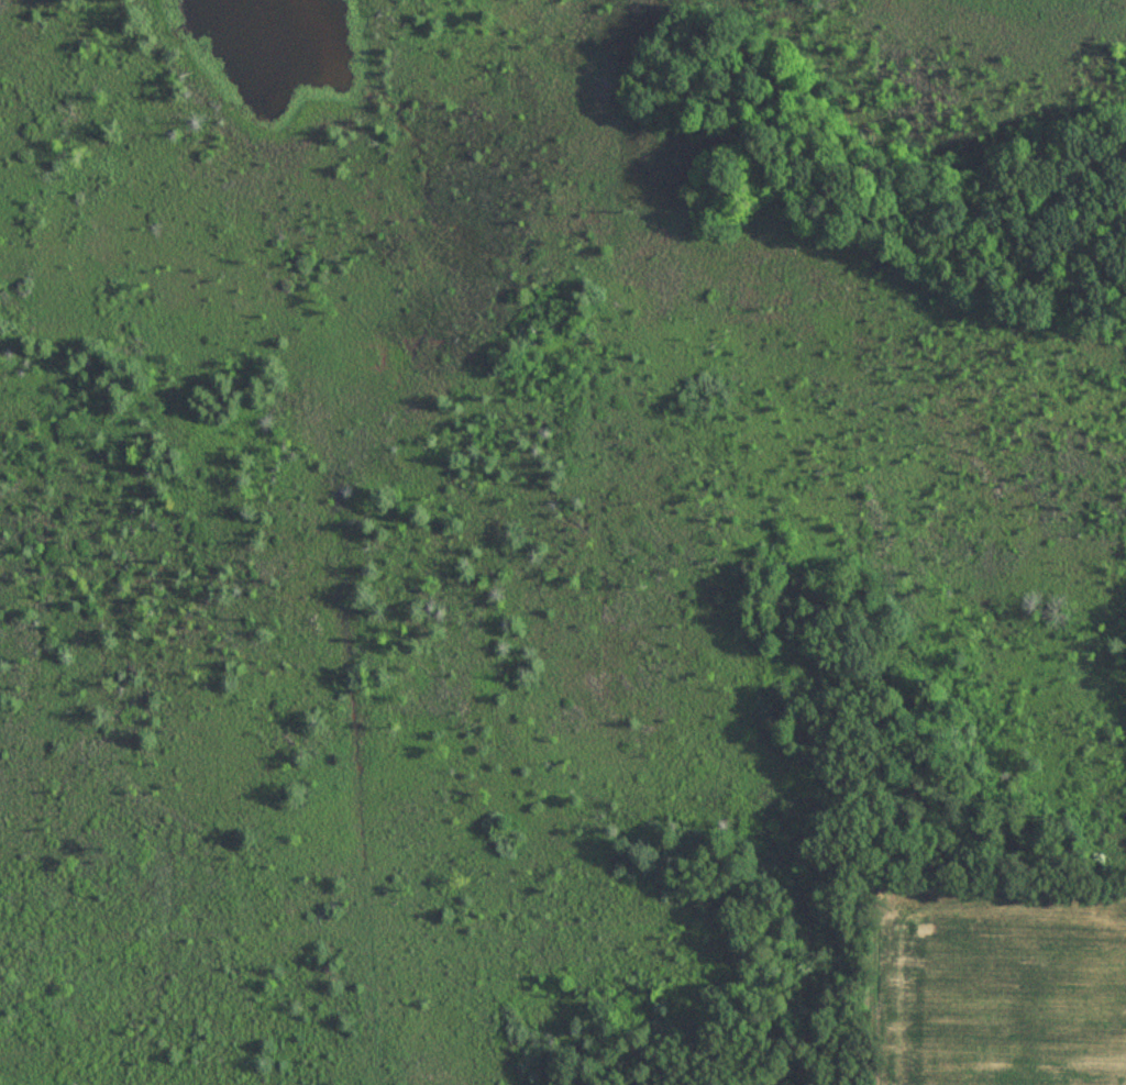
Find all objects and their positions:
crop: (1002, 994)

